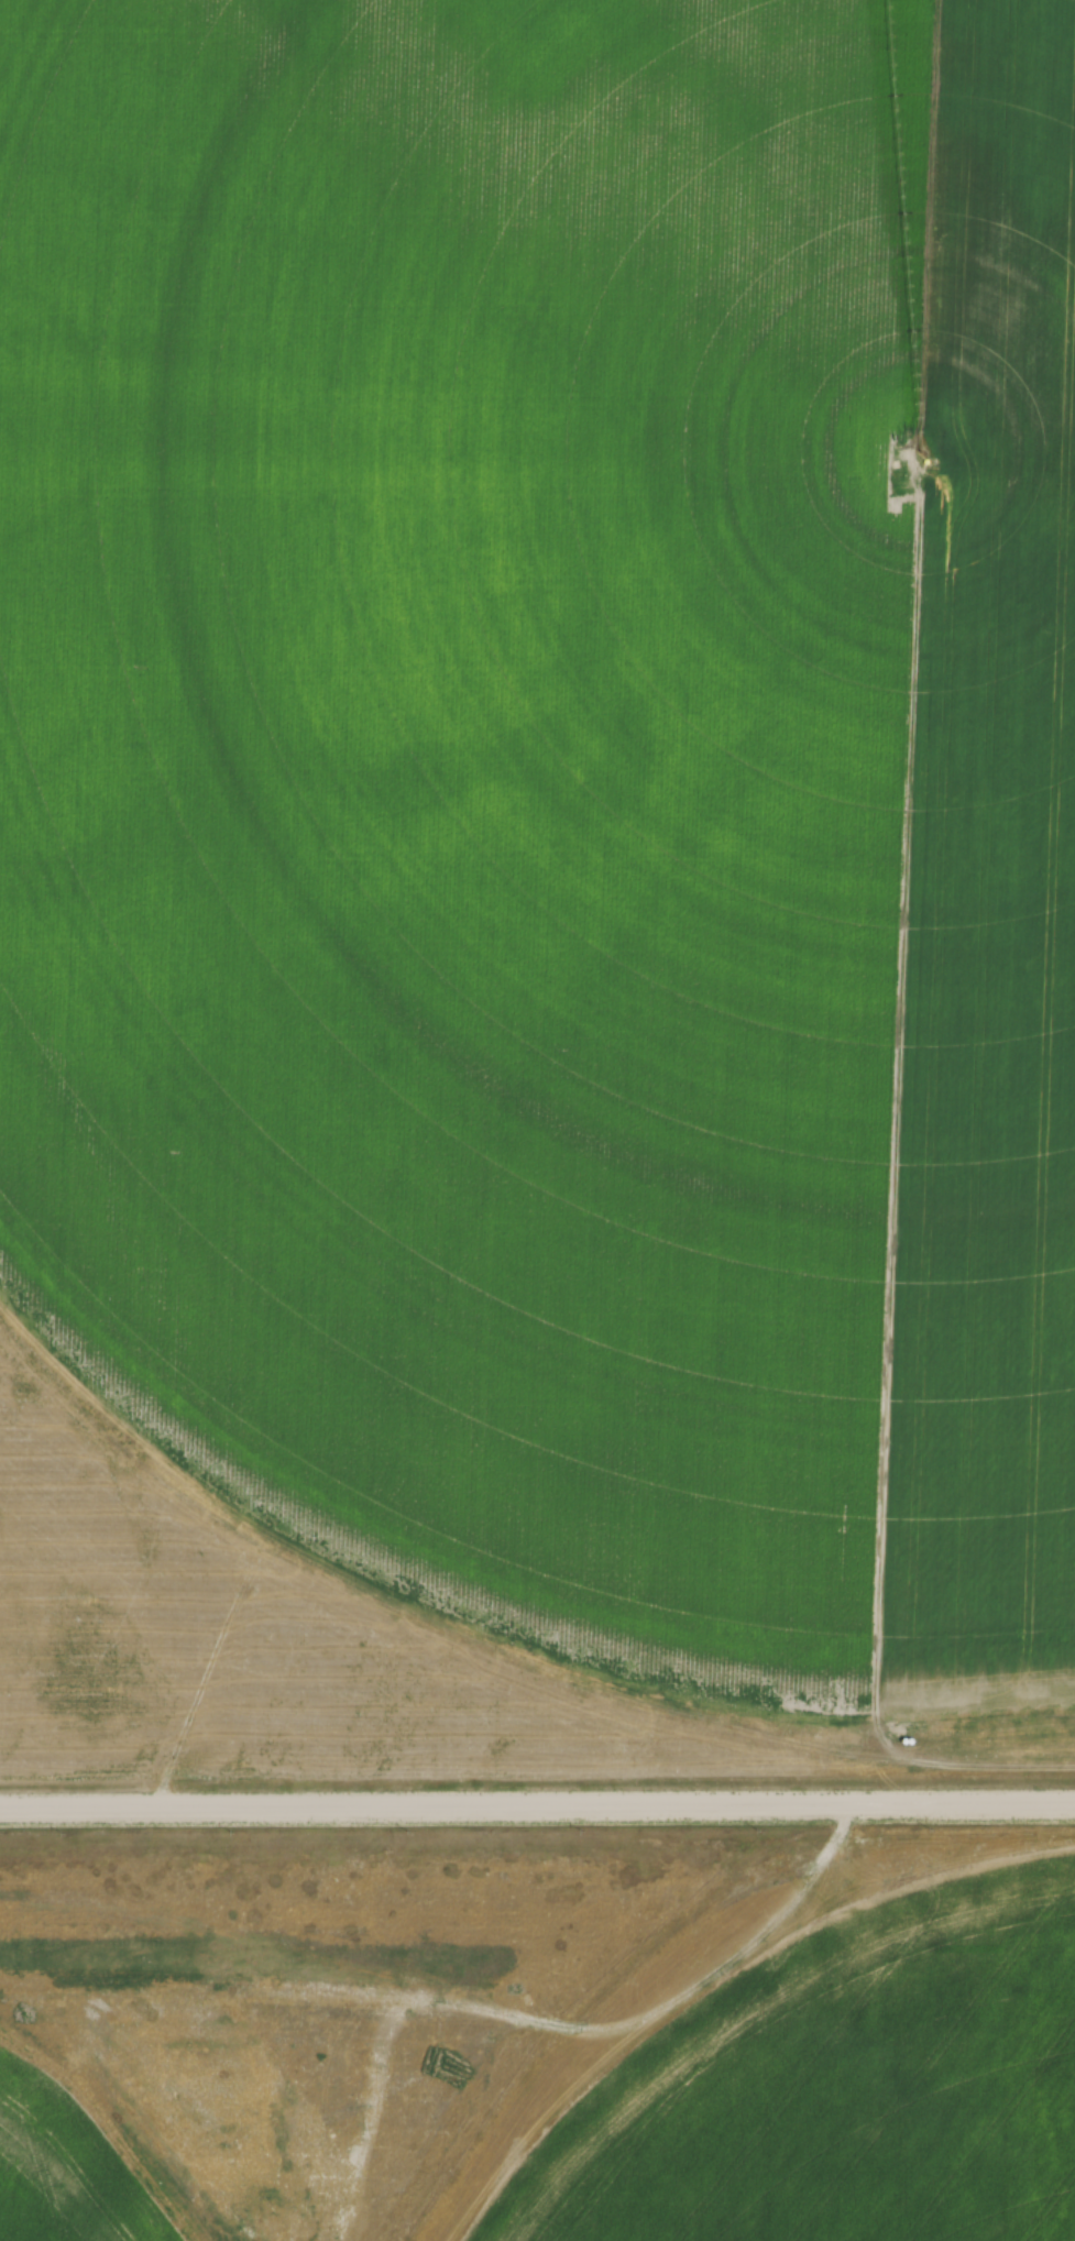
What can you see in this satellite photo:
road: (537, 1803)

